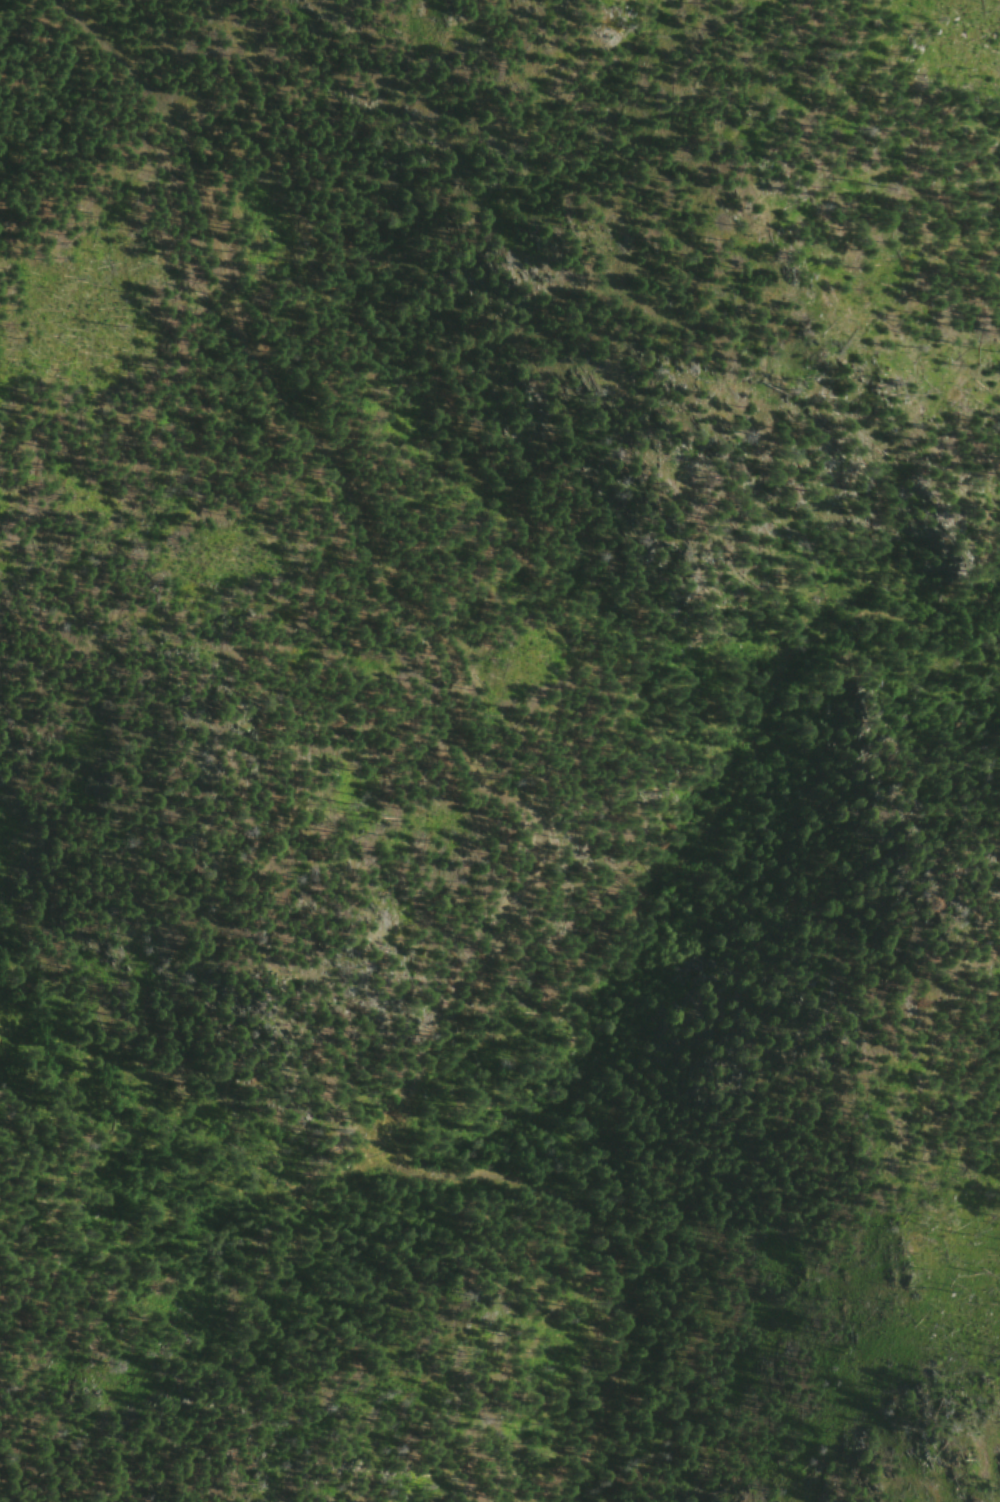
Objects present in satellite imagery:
road: (498, 794)

